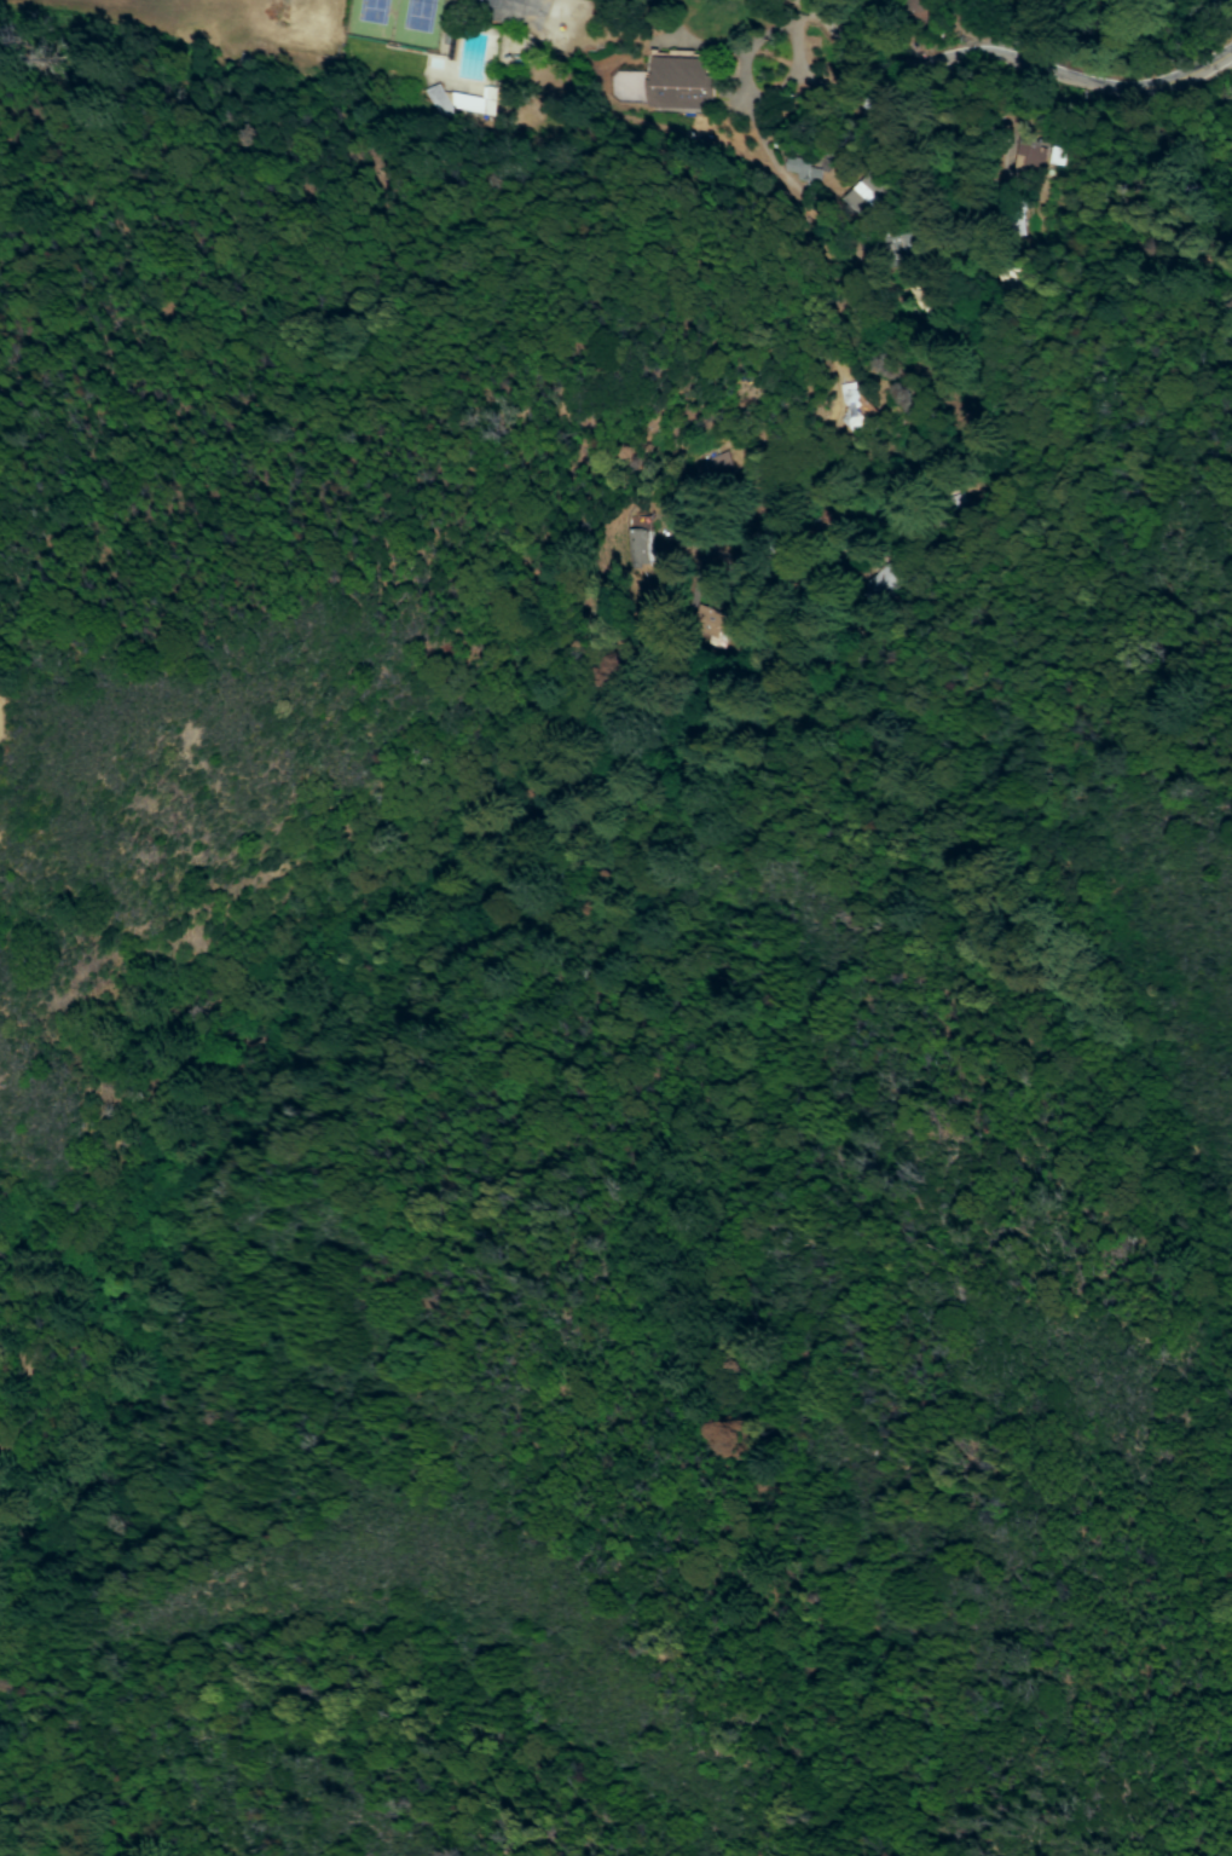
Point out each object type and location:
road: (787, 8)
park: (511, 13)
park: (398, 19)
road: (1024, 63)
building: (678, 80)
building: (438, 97)
building: (472, 103)
building: (883, 203)
road: (30, 1358)

